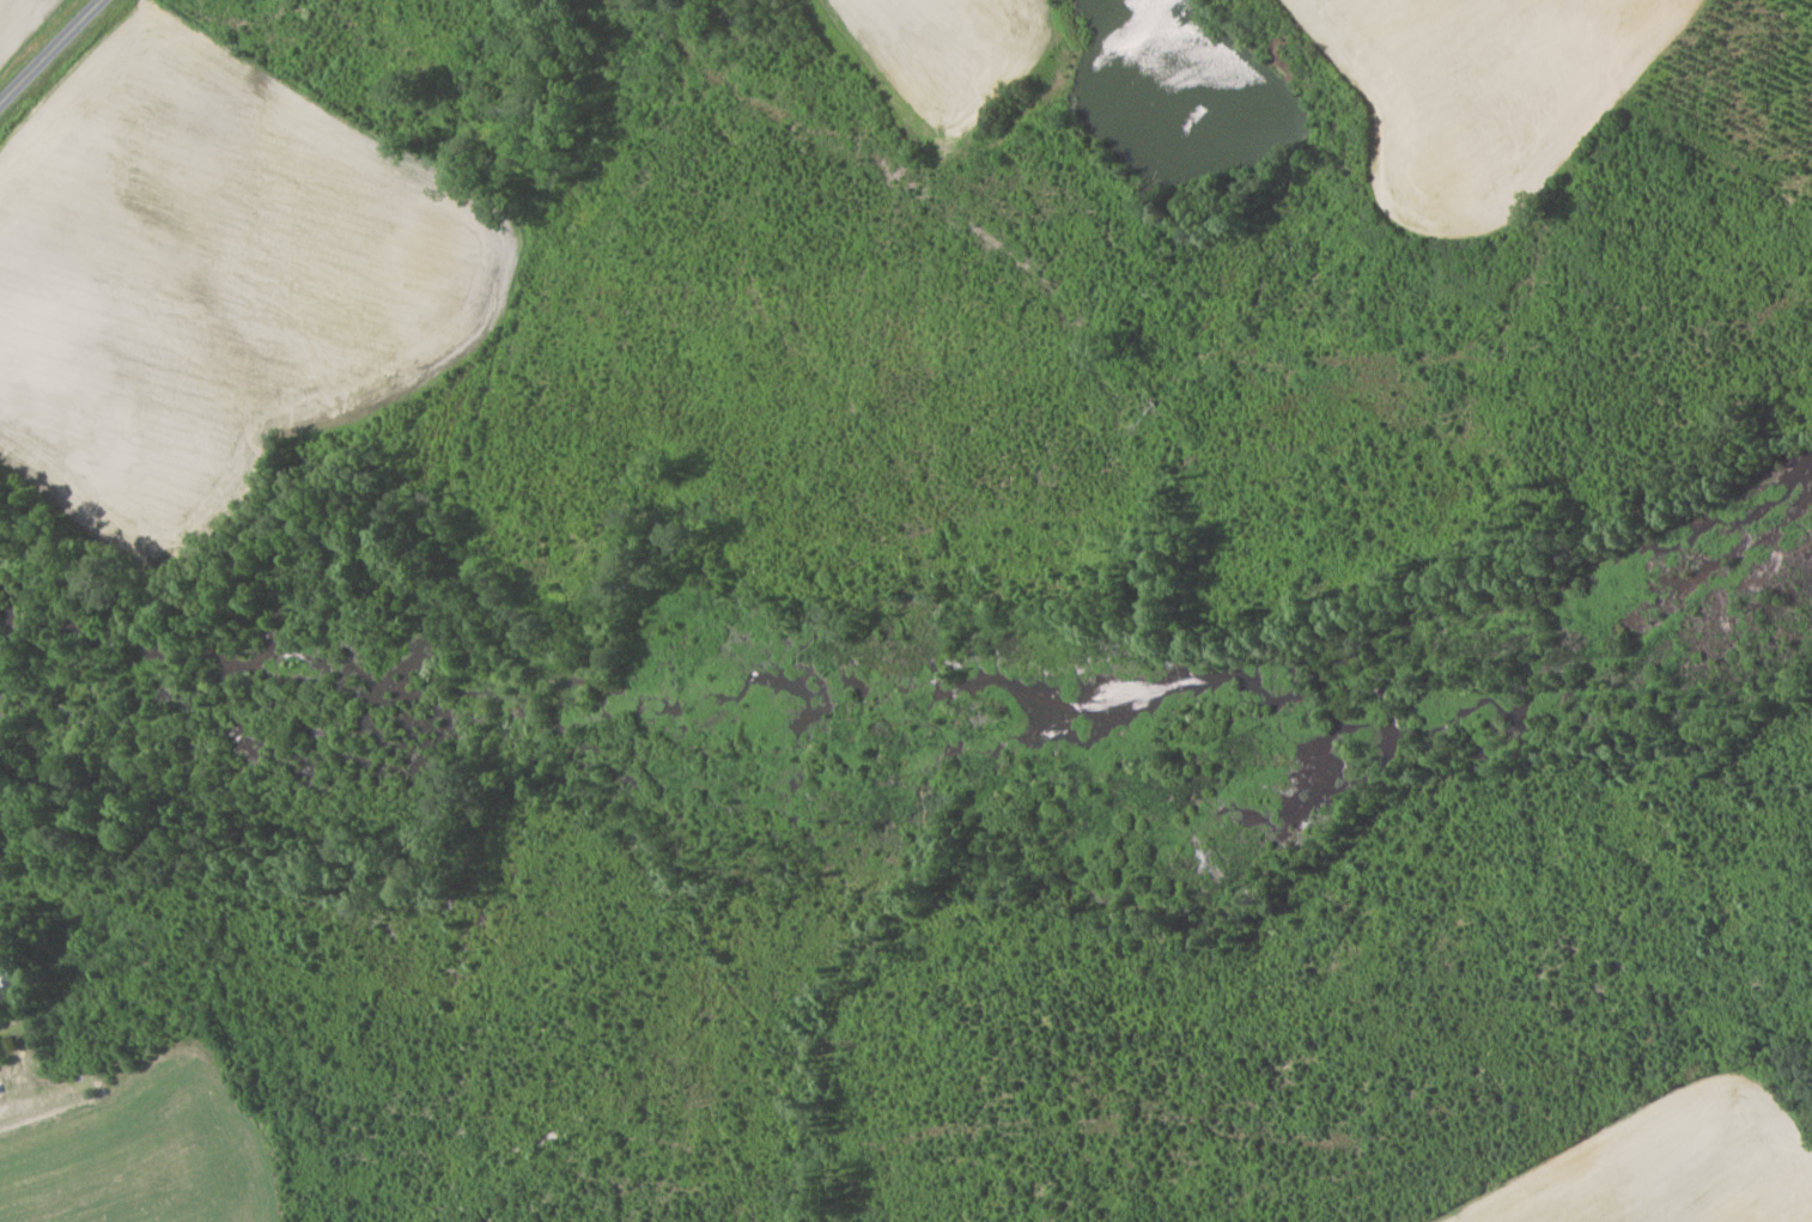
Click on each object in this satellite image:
road: (49, 50)

